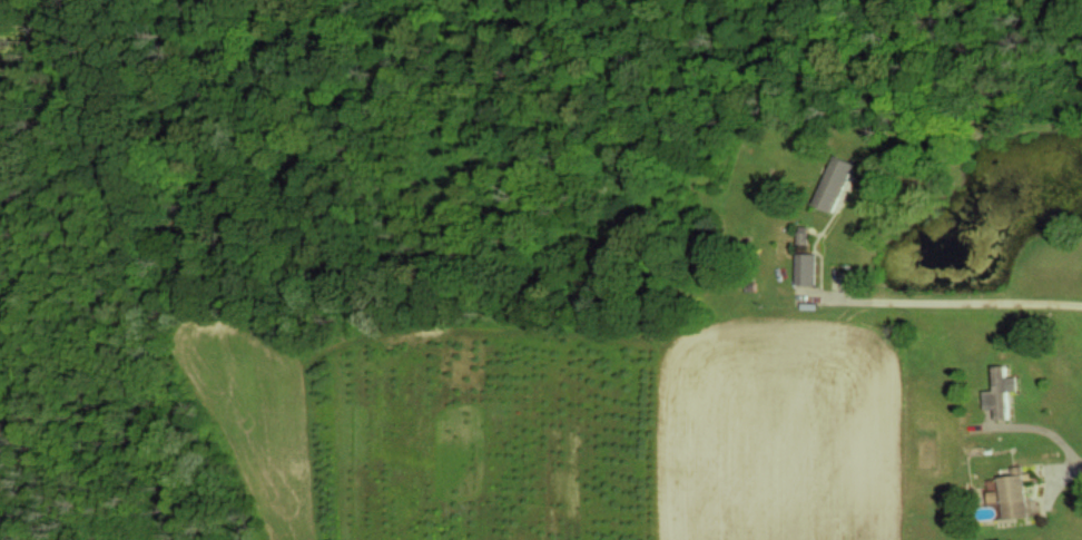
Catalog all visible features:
building: (834, 183)
building: (804, 235)
building: (807, 268)
road: (951, 301)
building: (1001, 392)
road: (1069, 465)
building: (1012, 493)

